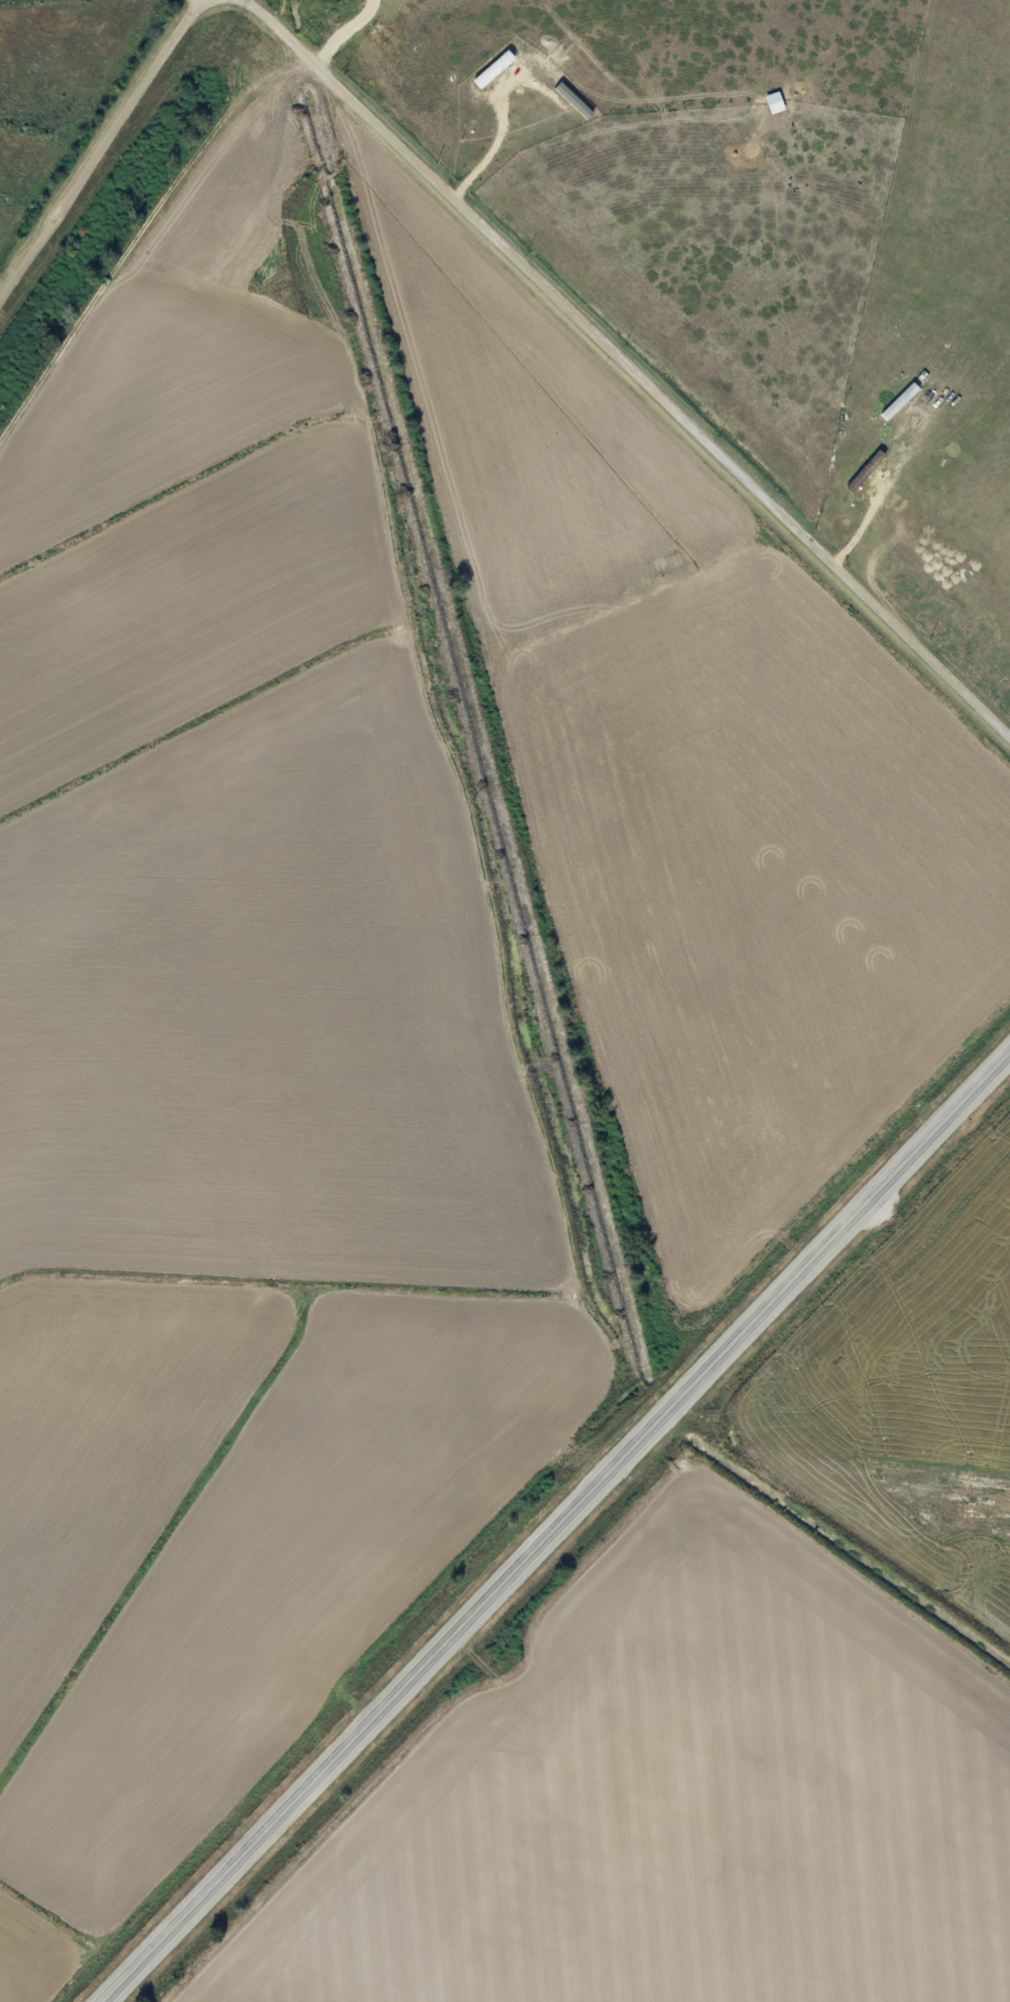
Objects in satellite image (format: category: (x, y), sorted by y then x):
road: (299, 66)
road: (96, 145)
road: (613, 363)
road: (559, 1524)

